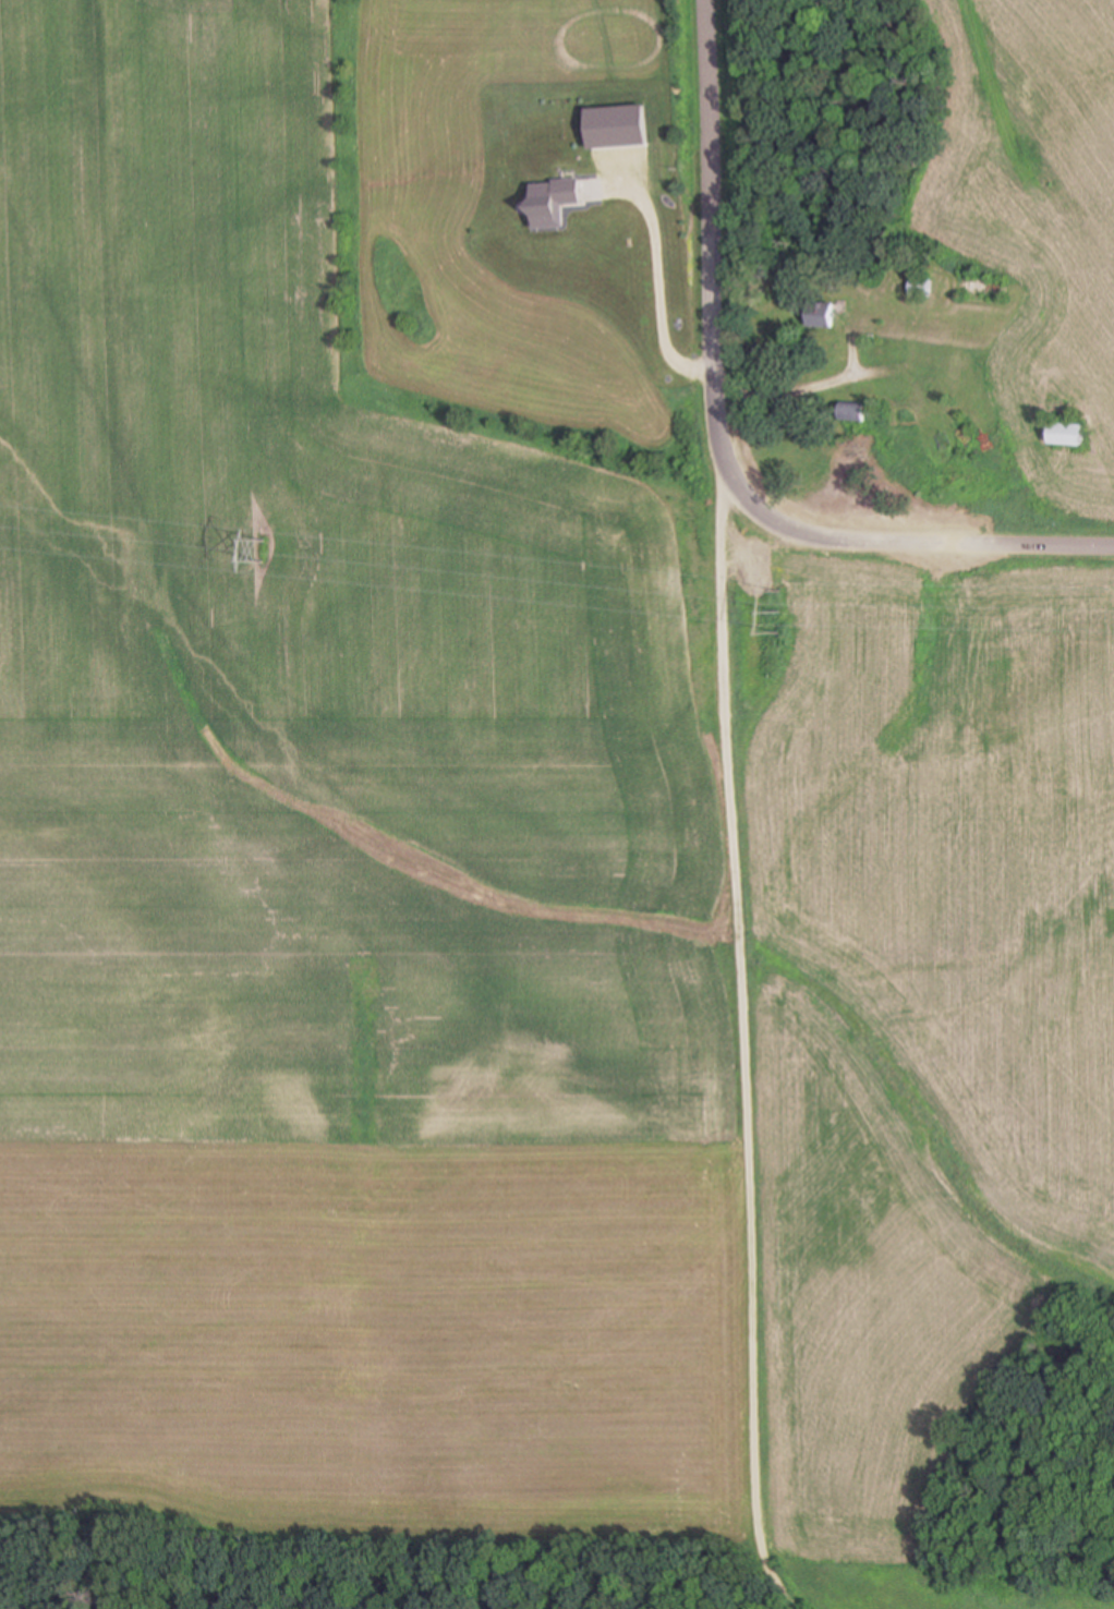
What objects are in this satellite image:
building: (556, 193)
road: (711, 257)
road: (658, 288)
building: (823, 318)
building: (853, 409)
building: (1068, 436)
road: (932, 540)
power tower: (264, 554)
power tower: (776, 597)
road: (747, 1039)

